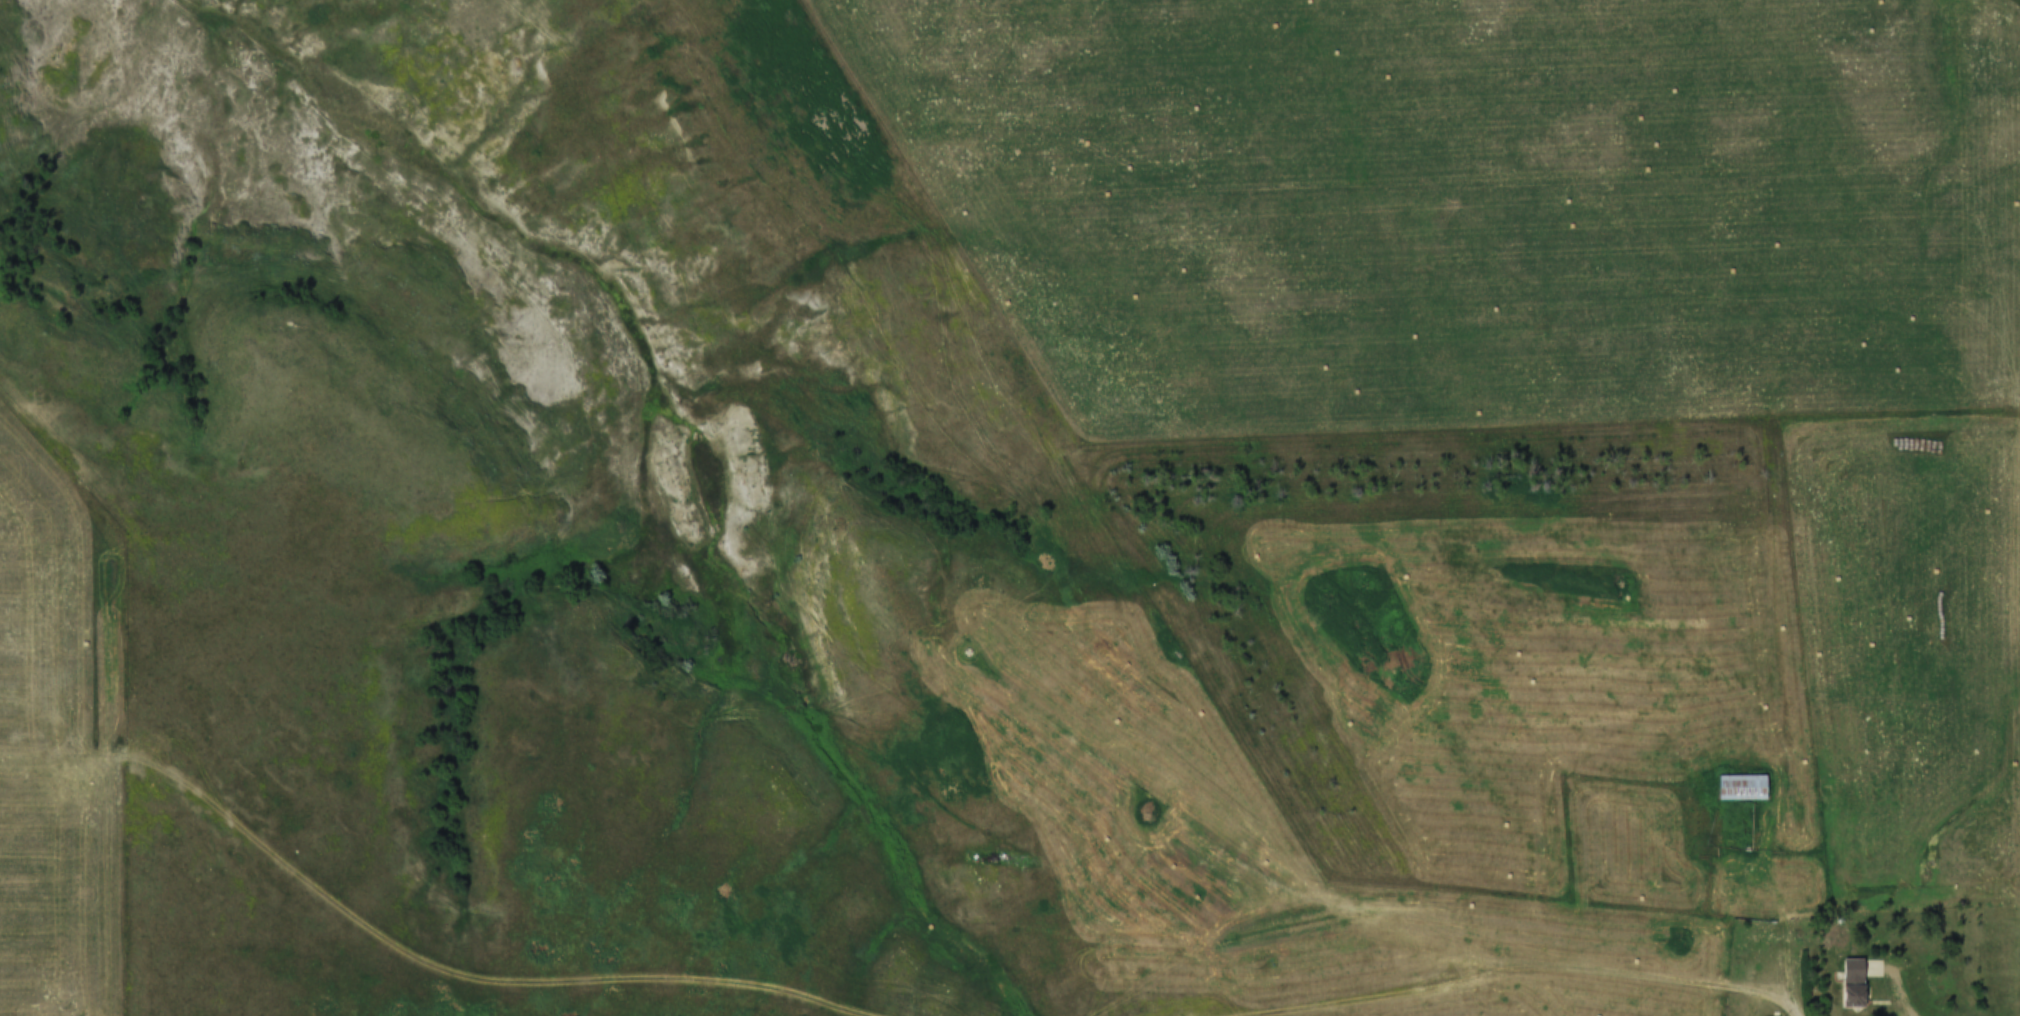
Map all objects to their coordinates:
building: (1737, 780)
building: (1823, 783)
silo: (1823, 783)
building: (1818, 798)
silo: (1818, 798)
building: (1848, 975)
building: (1764, 1014)

